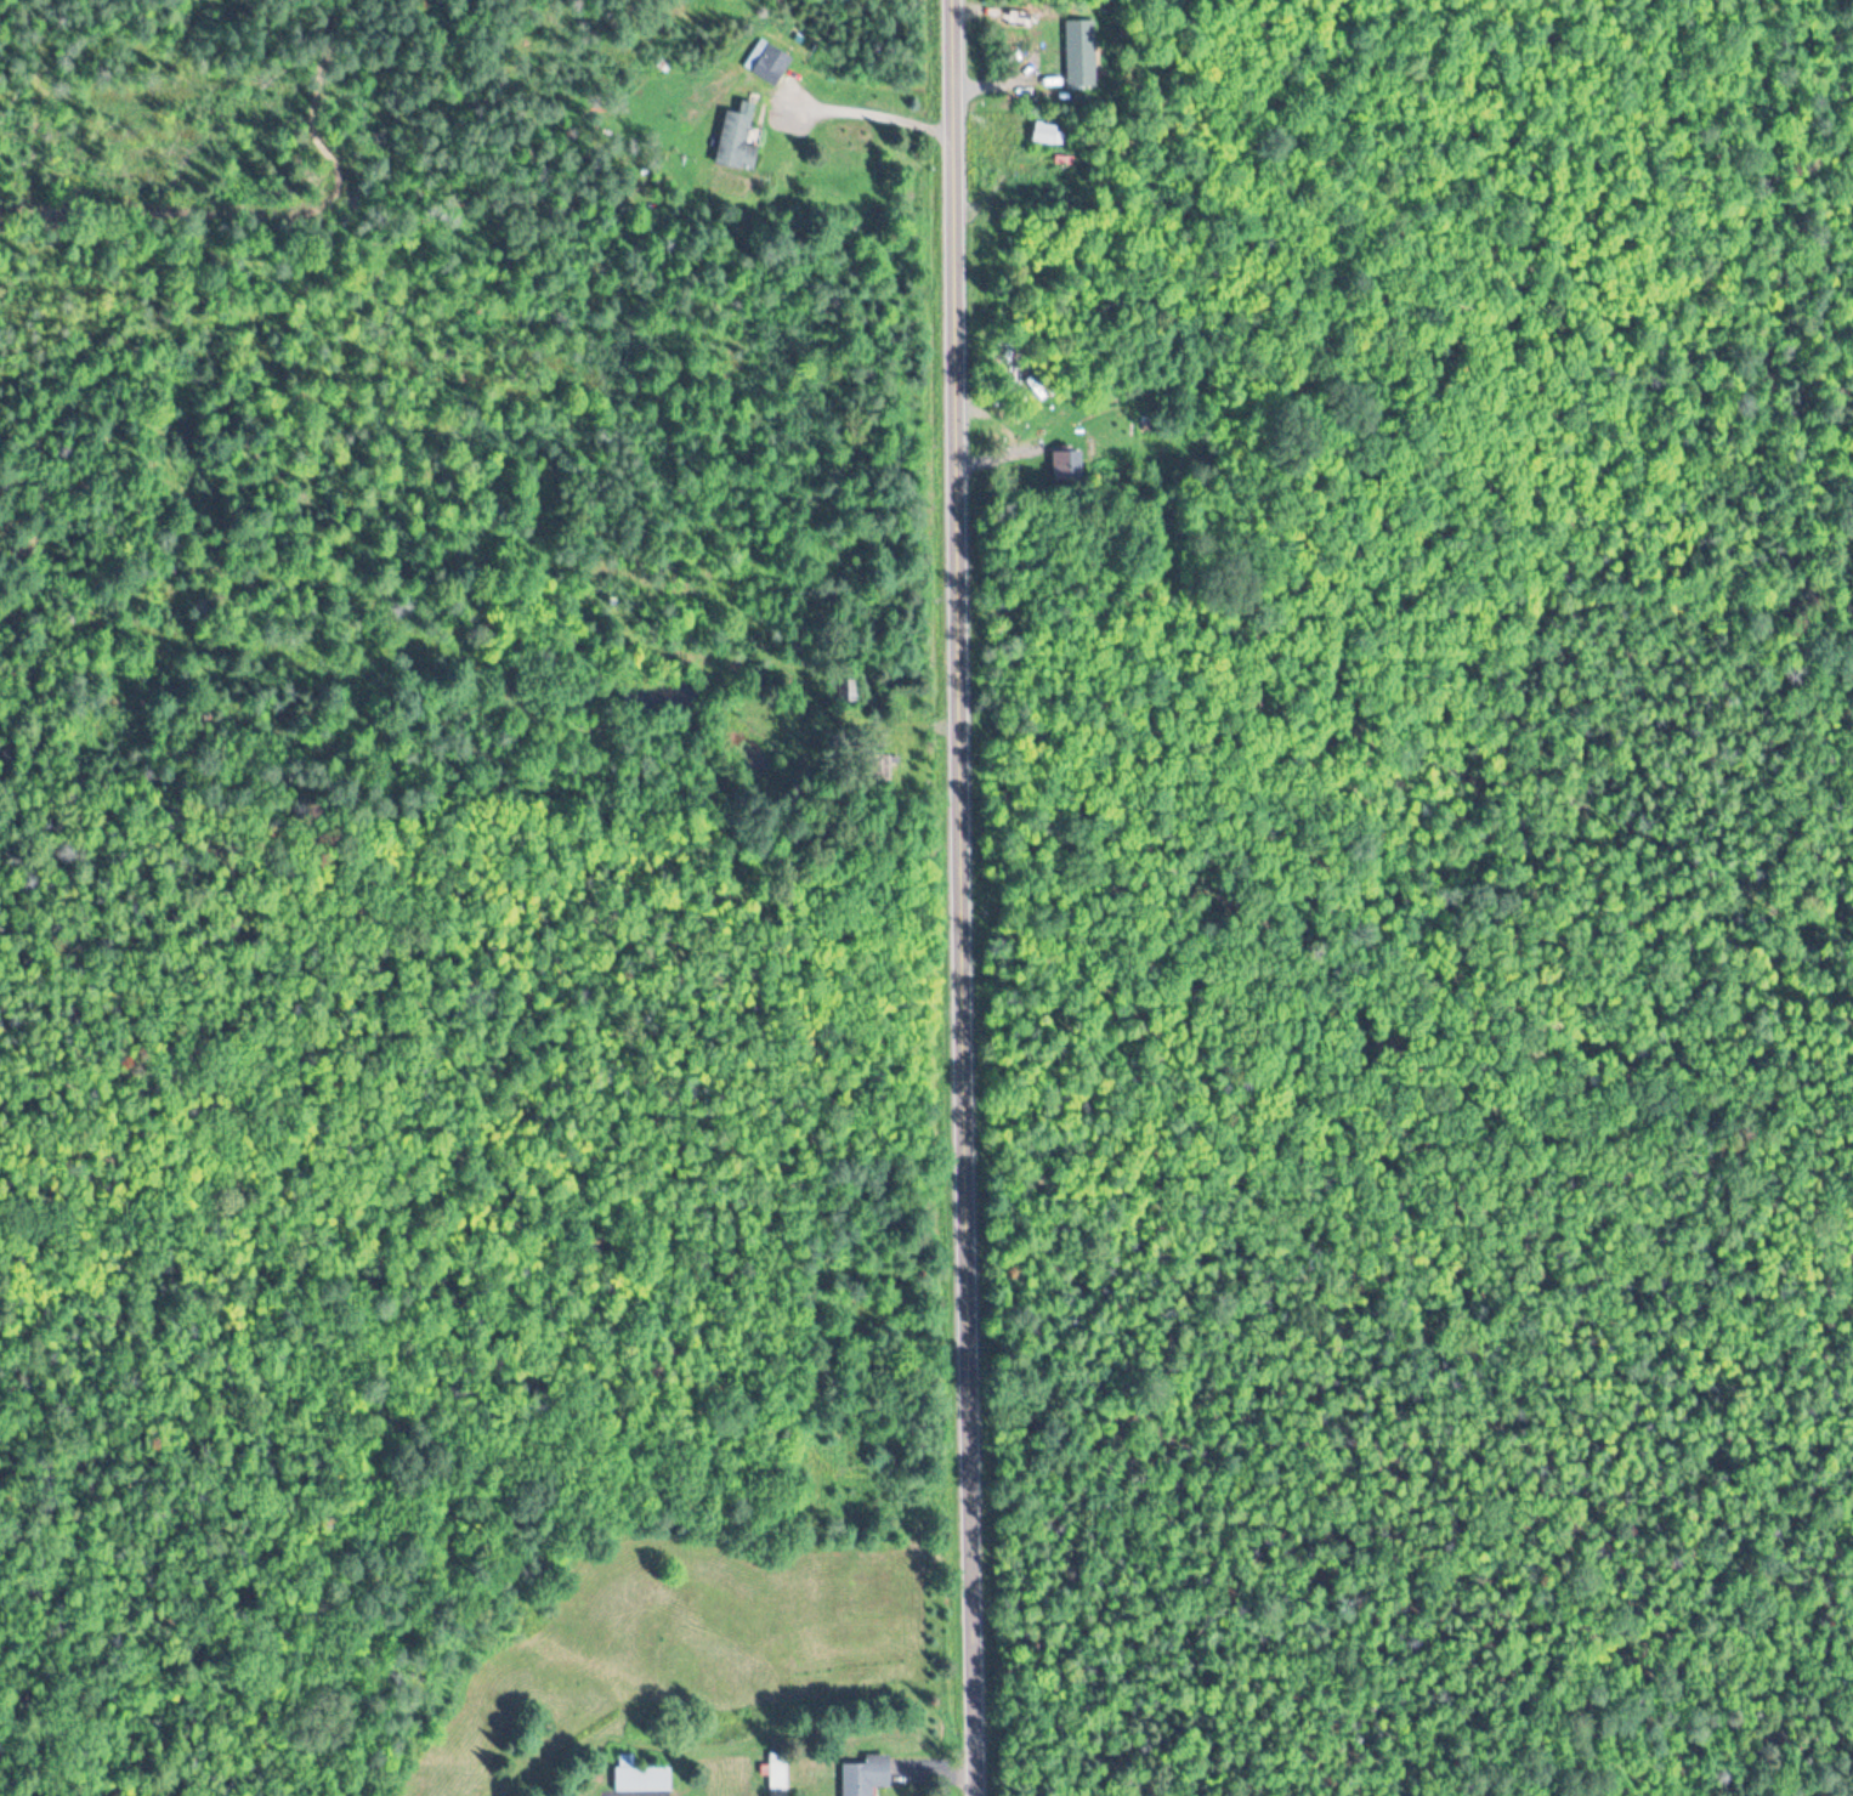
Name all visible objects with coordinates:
road: (1019, 52)
building: (1081, 55)
building: (769, 70)
road: (875, 119)
building: (1044, 135)
building: (736, 142)
road: (996, 430)
building: (1067, 466)
building: (851, 690)
building: (880, 769)
road: (968, 897)
building: (778, 1774)
building: (867, 1775)
building: (644, 1779)

